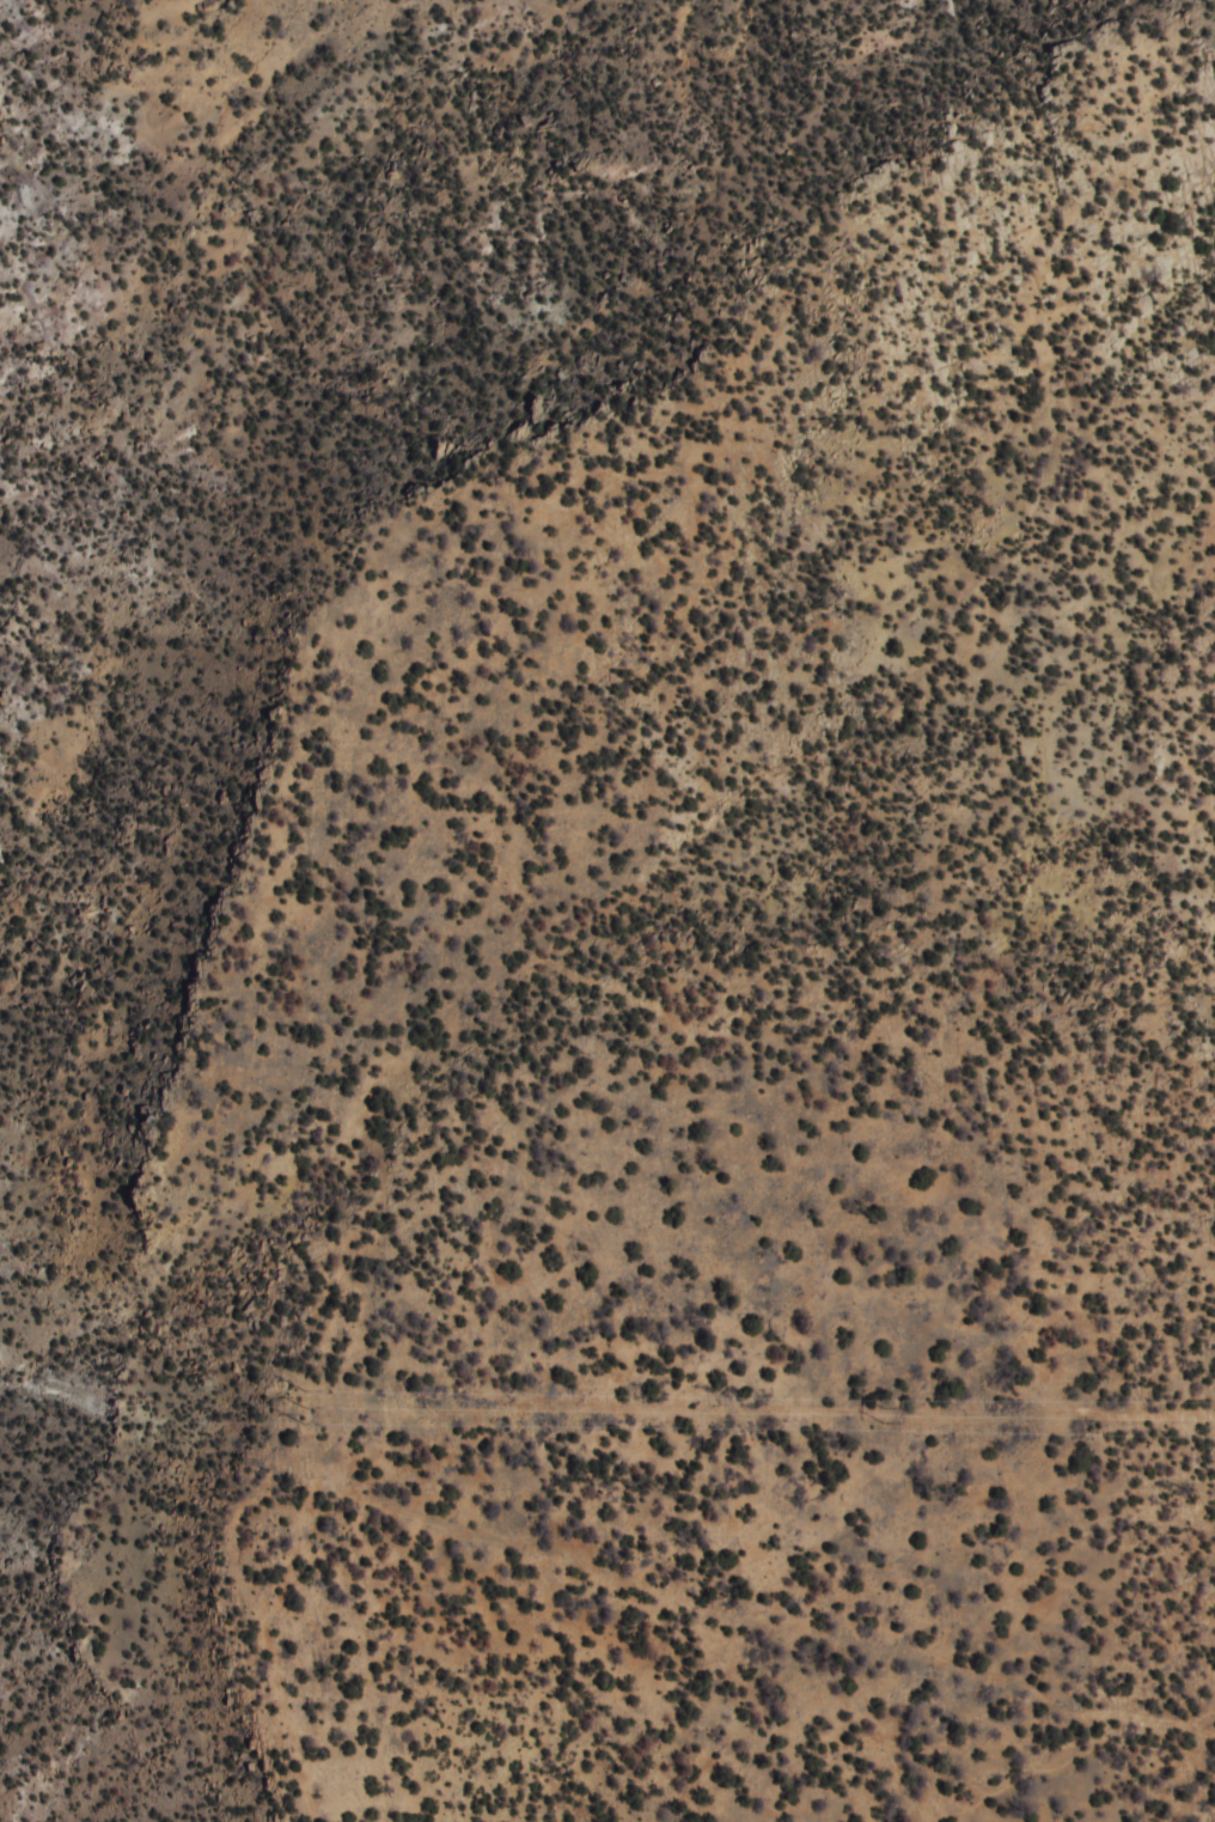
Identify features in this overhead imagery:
power tower: (304, 1406)
power tower: (881, 1416)
road: (664, 1608)

